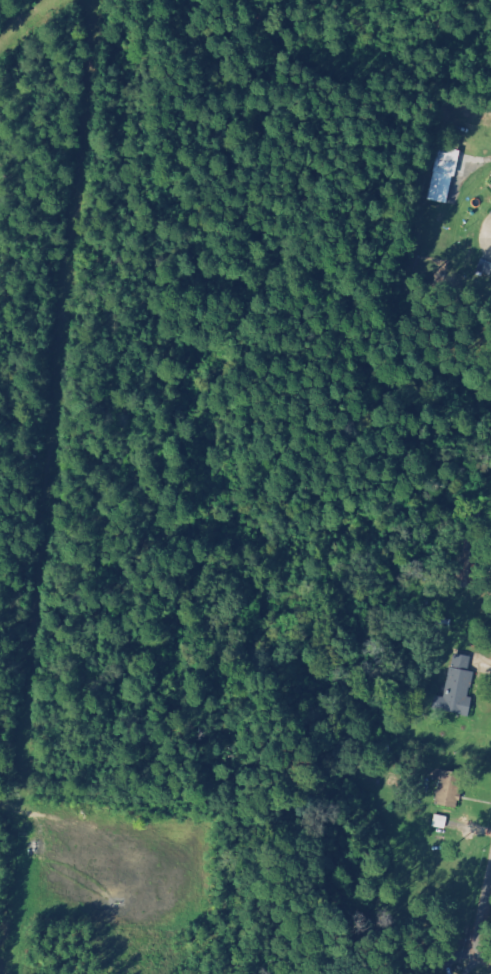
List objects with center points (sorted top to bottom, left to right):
road: (489, 932)

